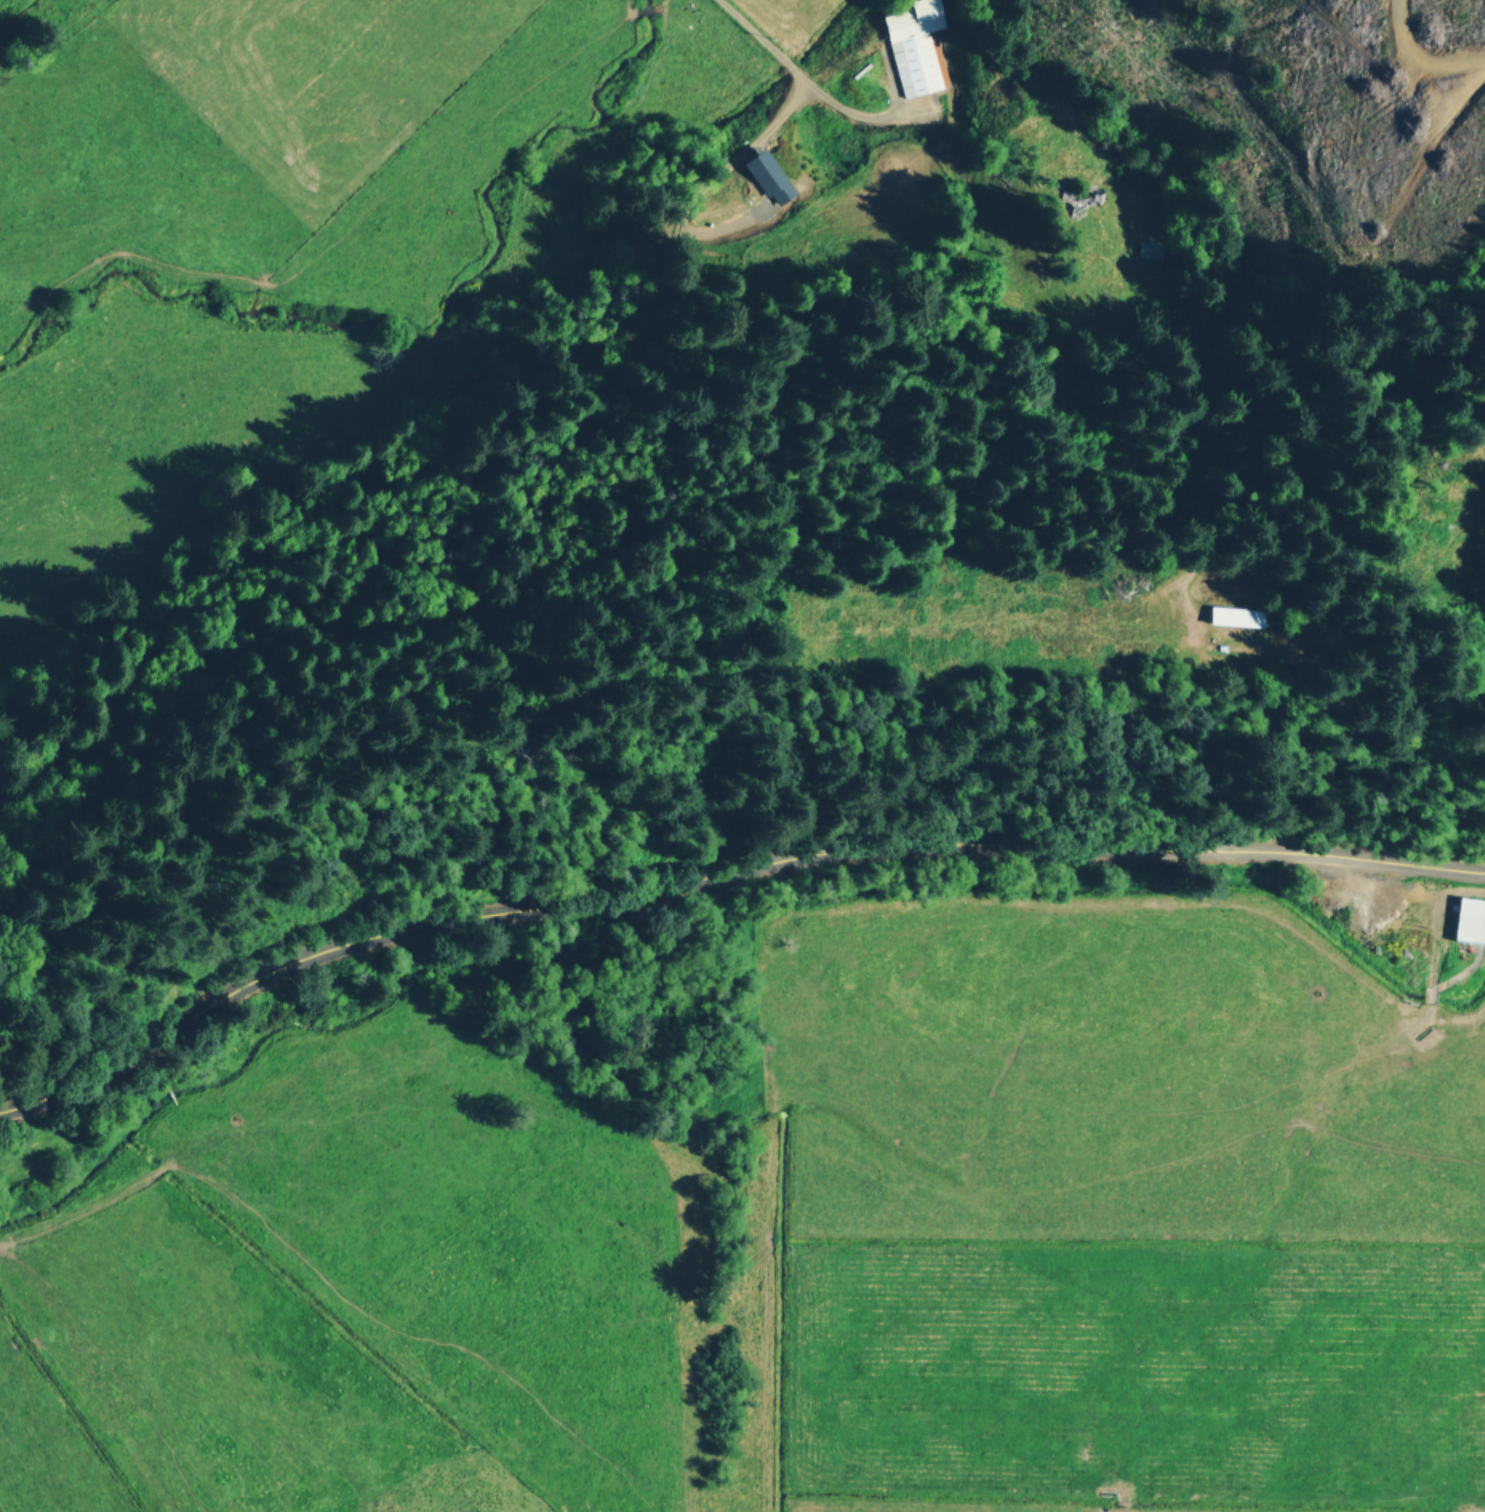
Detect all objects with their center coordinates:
building: (915, 47)
road: (802, 74)
building: (767, 175)
crop: (313, 224)
building: (1236, 615)
road: (722, 875)
building: (1470, 919)
crop: (790, 1223)

